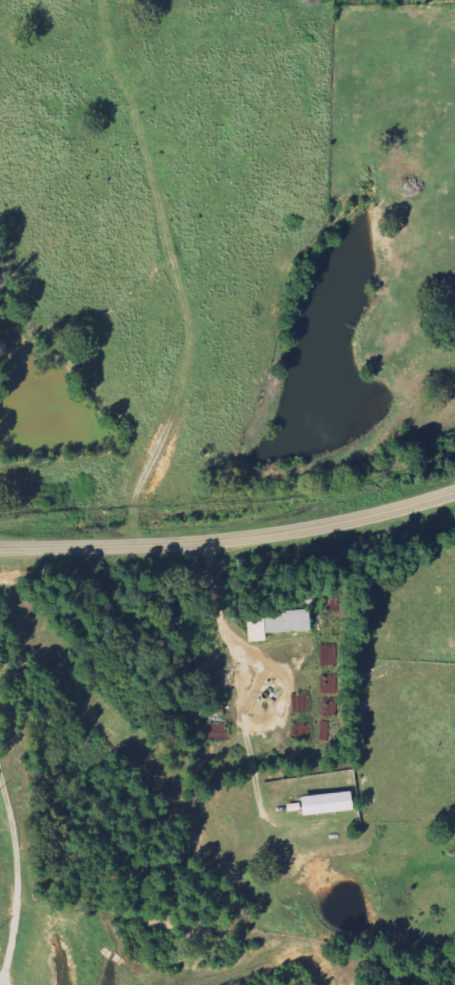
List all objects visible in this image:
road: (230, 539)
building: (291, 622)
building: (331, 804)

